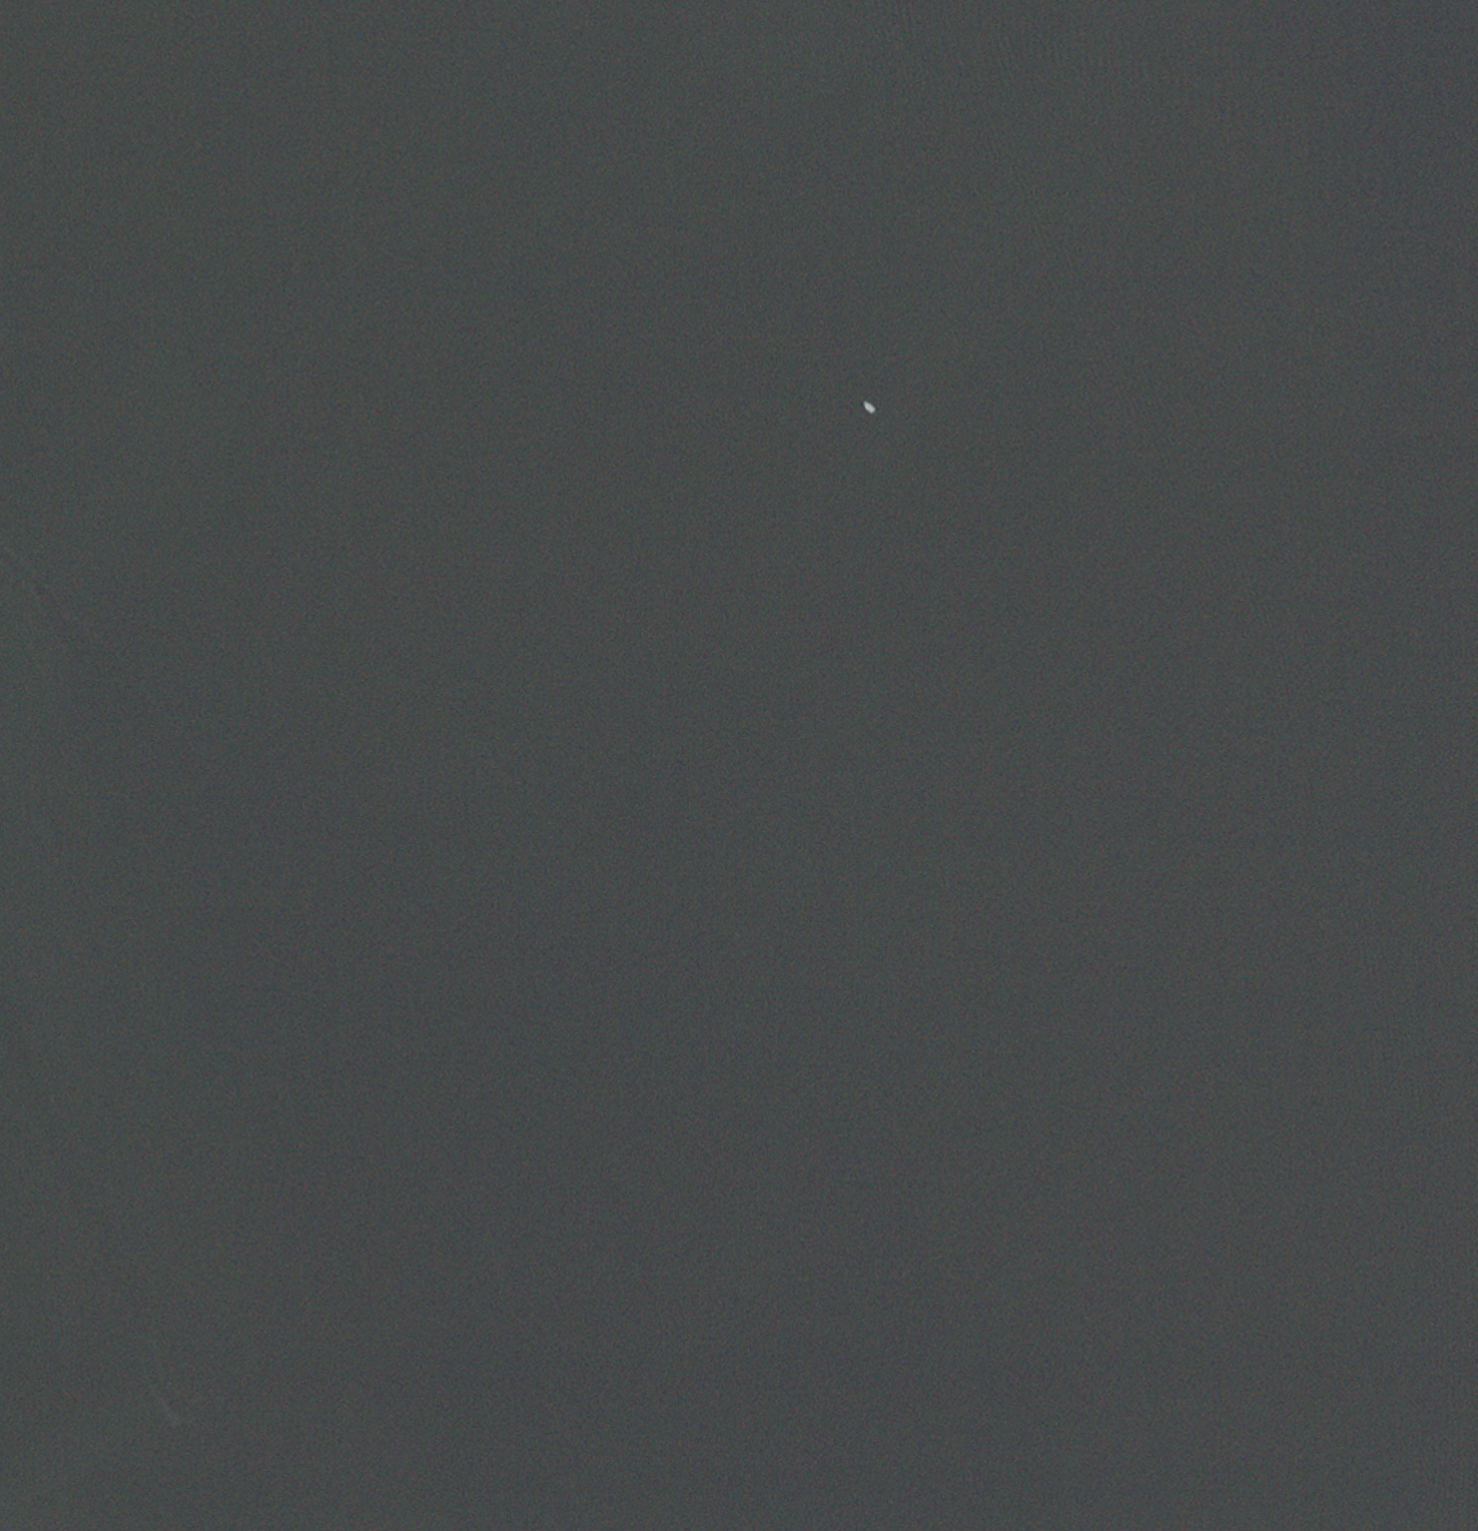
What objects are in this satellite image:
river: (131, 1412)

